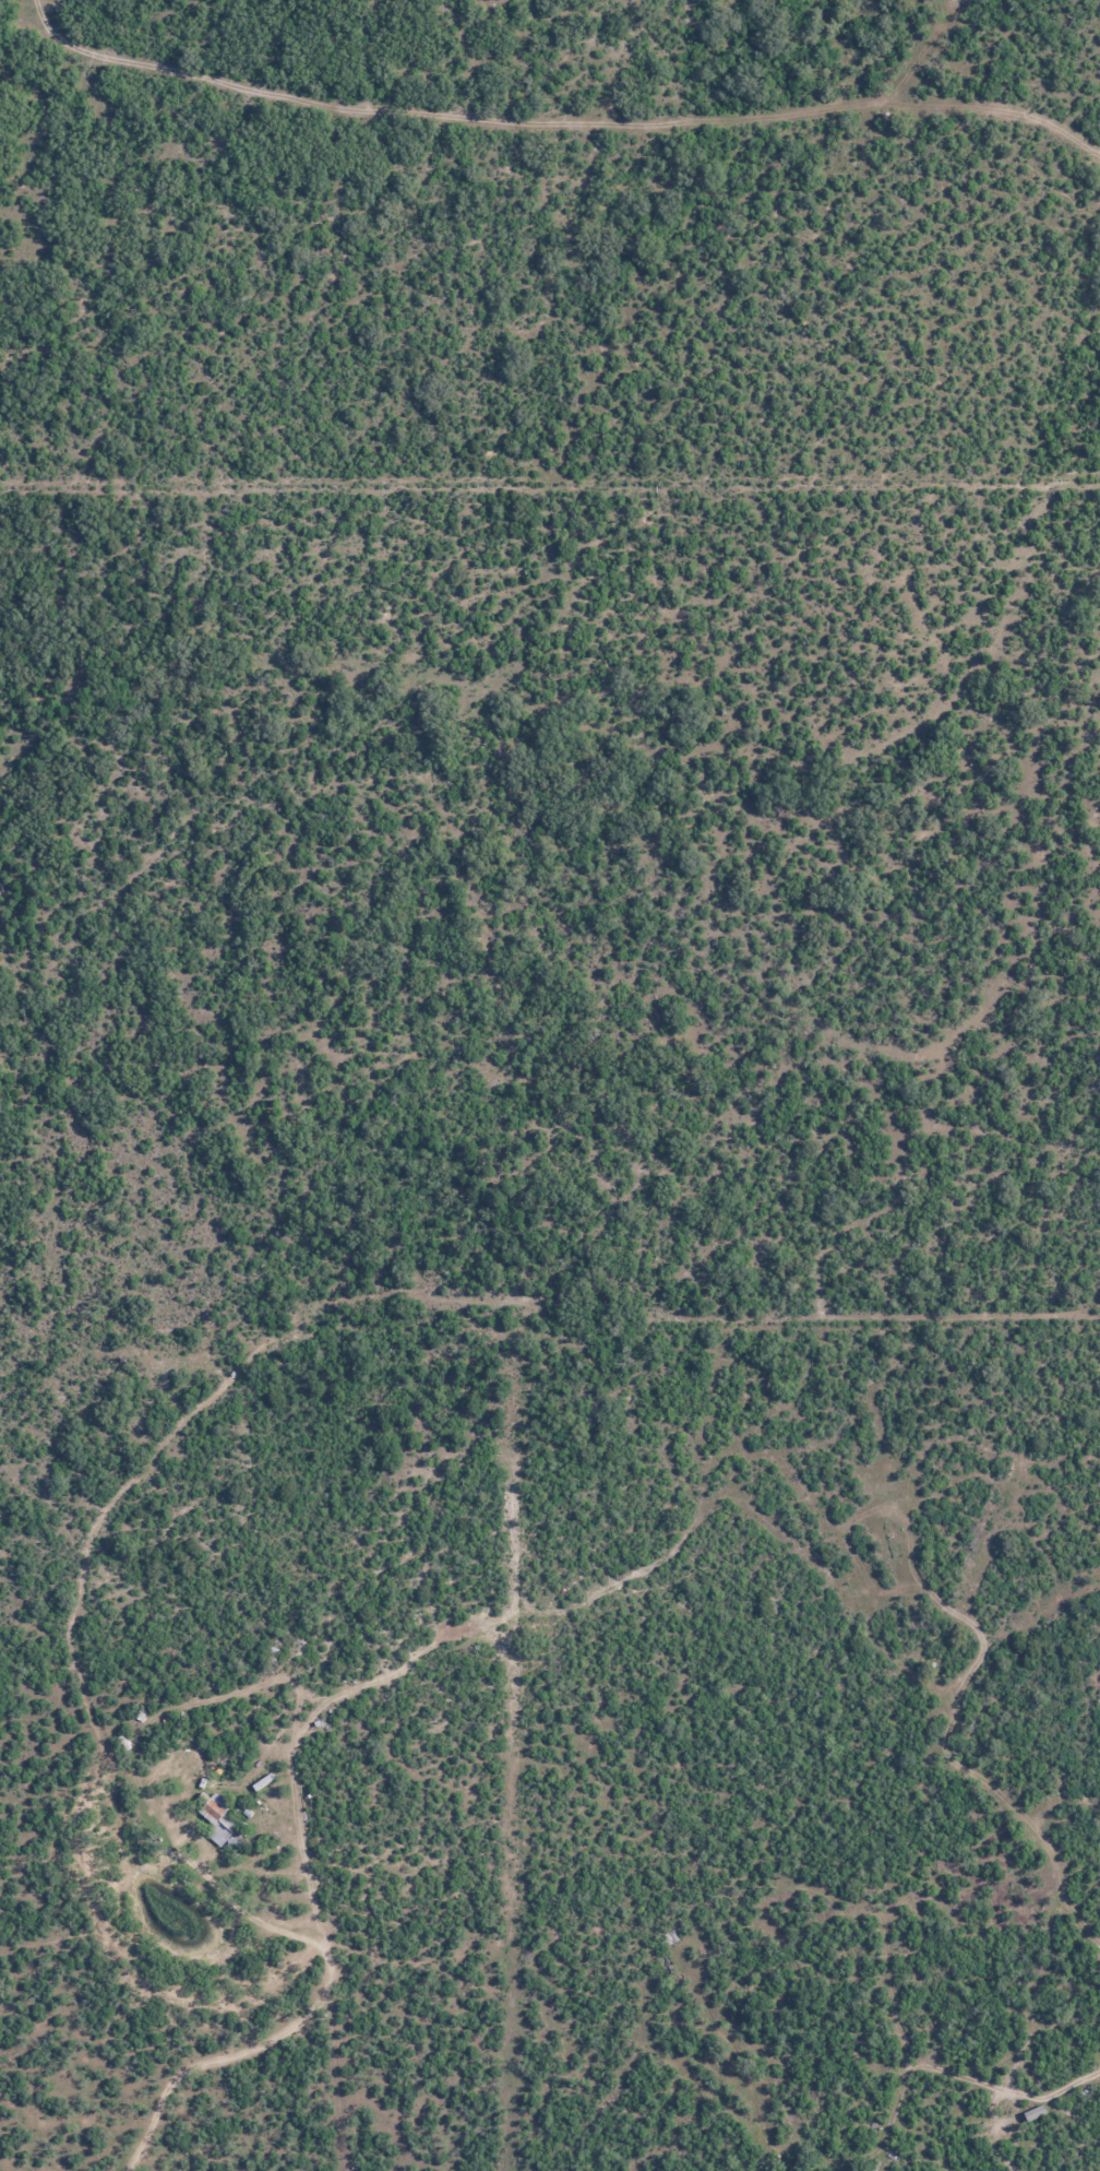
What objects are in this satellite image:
building: (217, 1818)
building: (1035, 2113)

